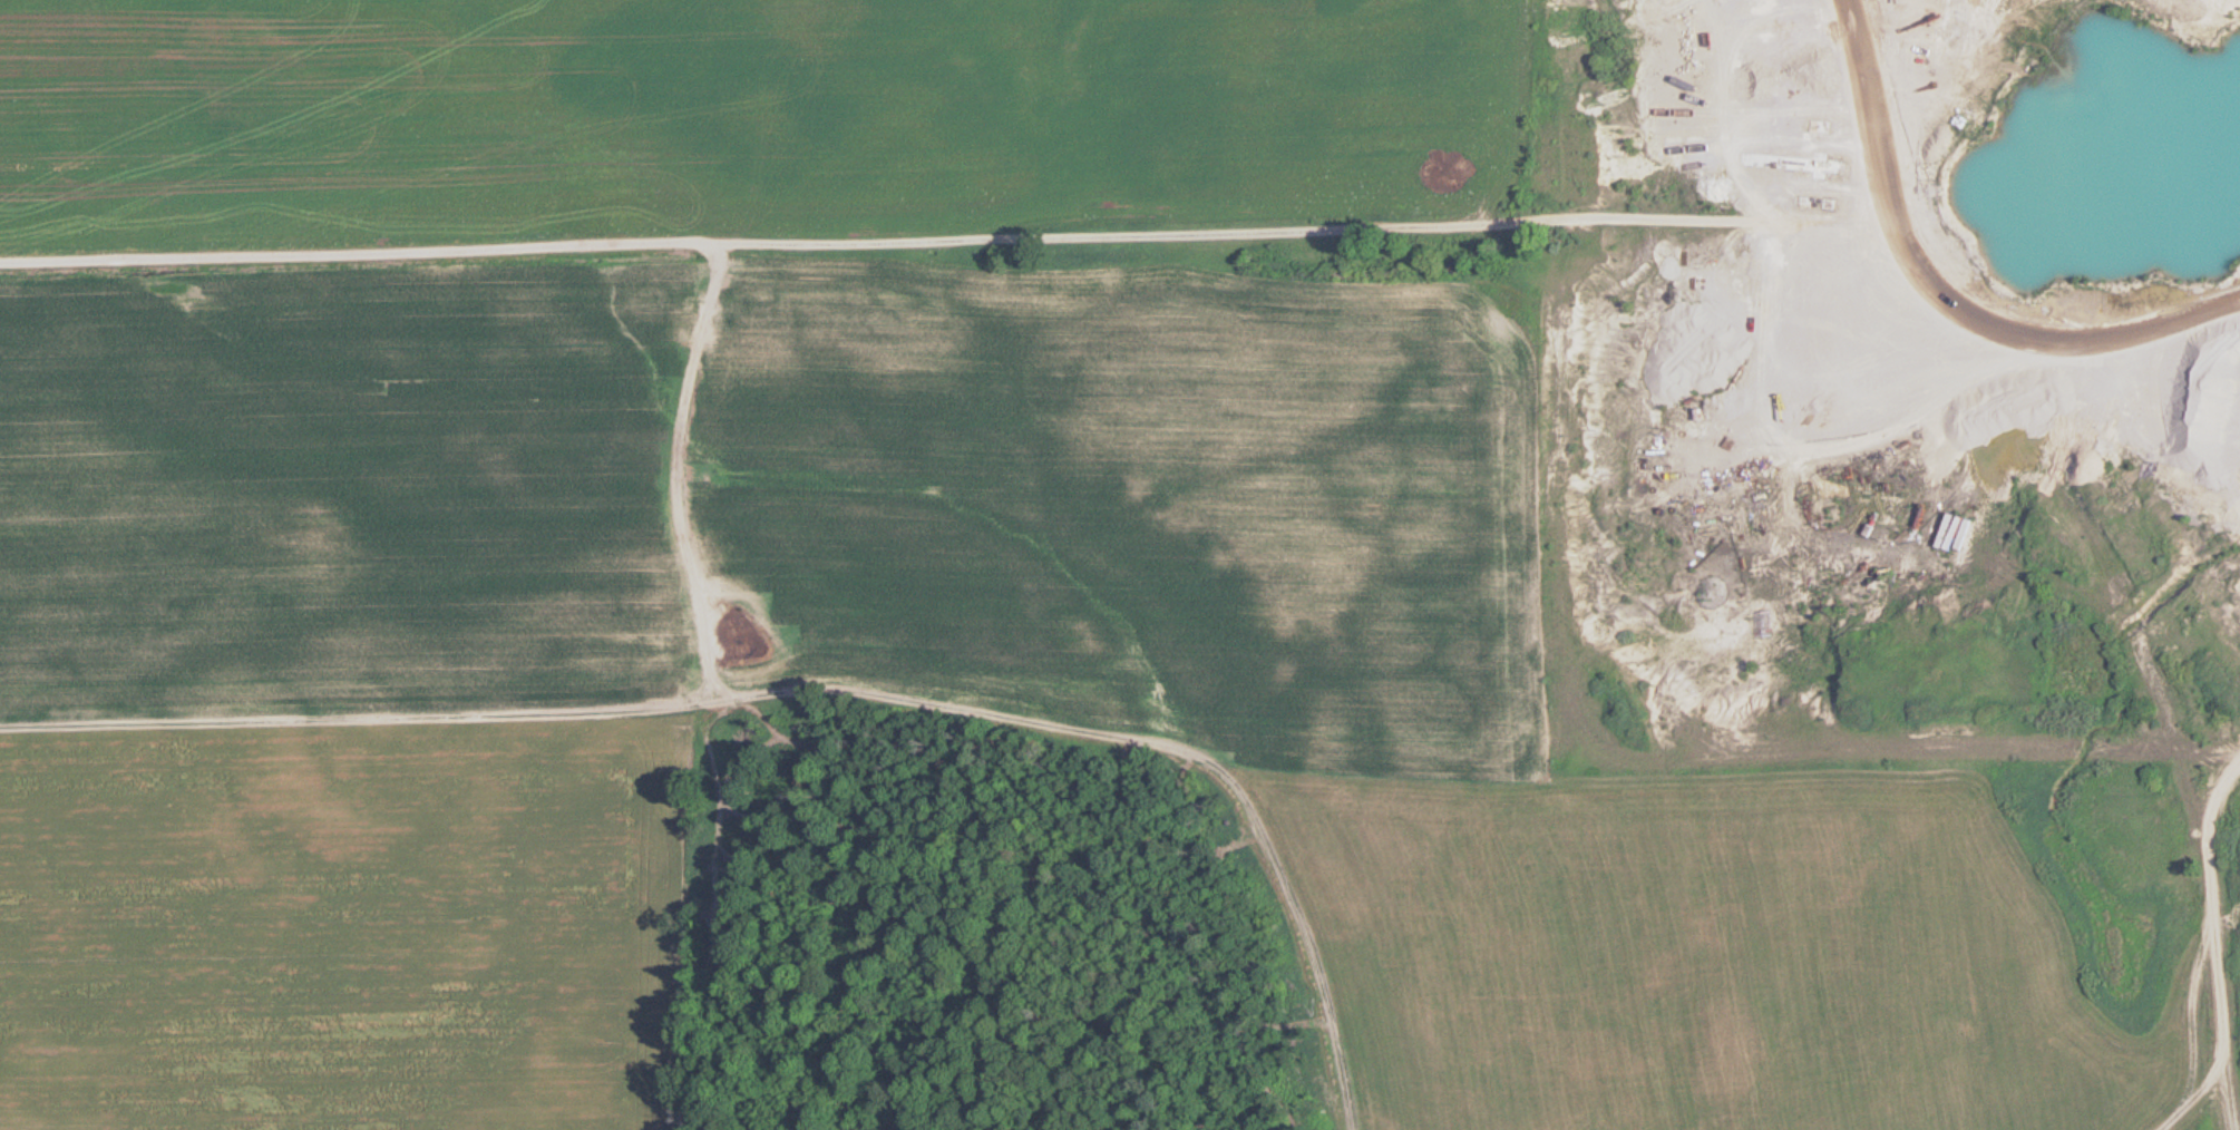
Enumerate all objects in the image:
quarry: (1892, 374)
building: (1744, 624)

